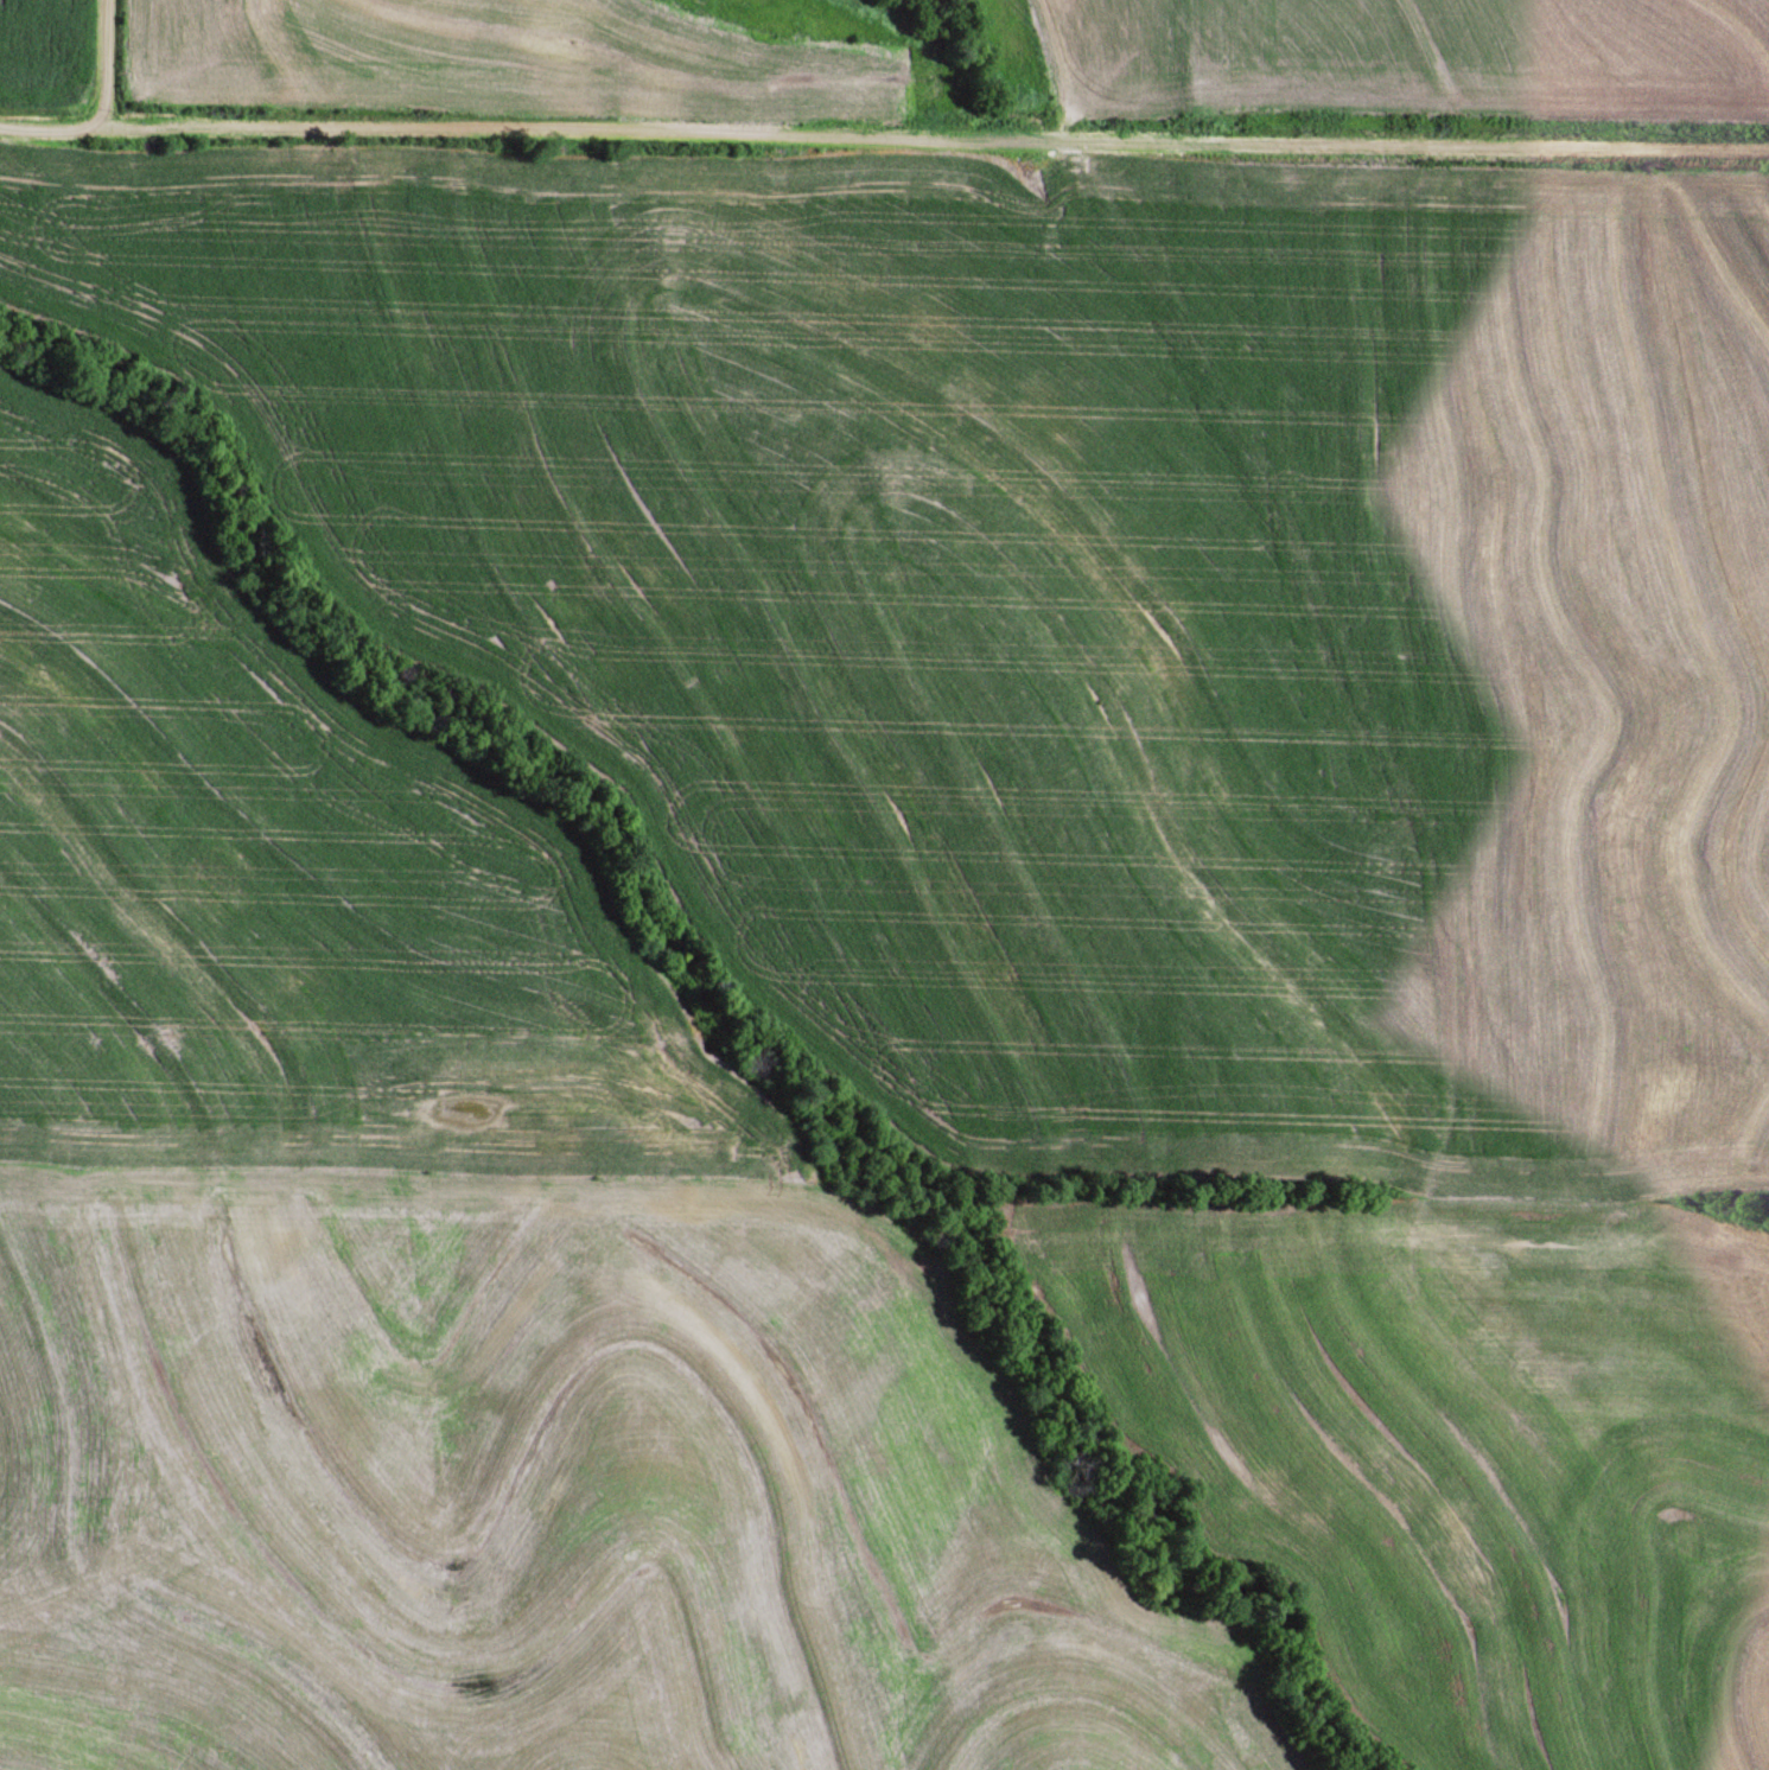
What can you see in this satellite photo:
road: (110, 62)
road: (884, 134)

